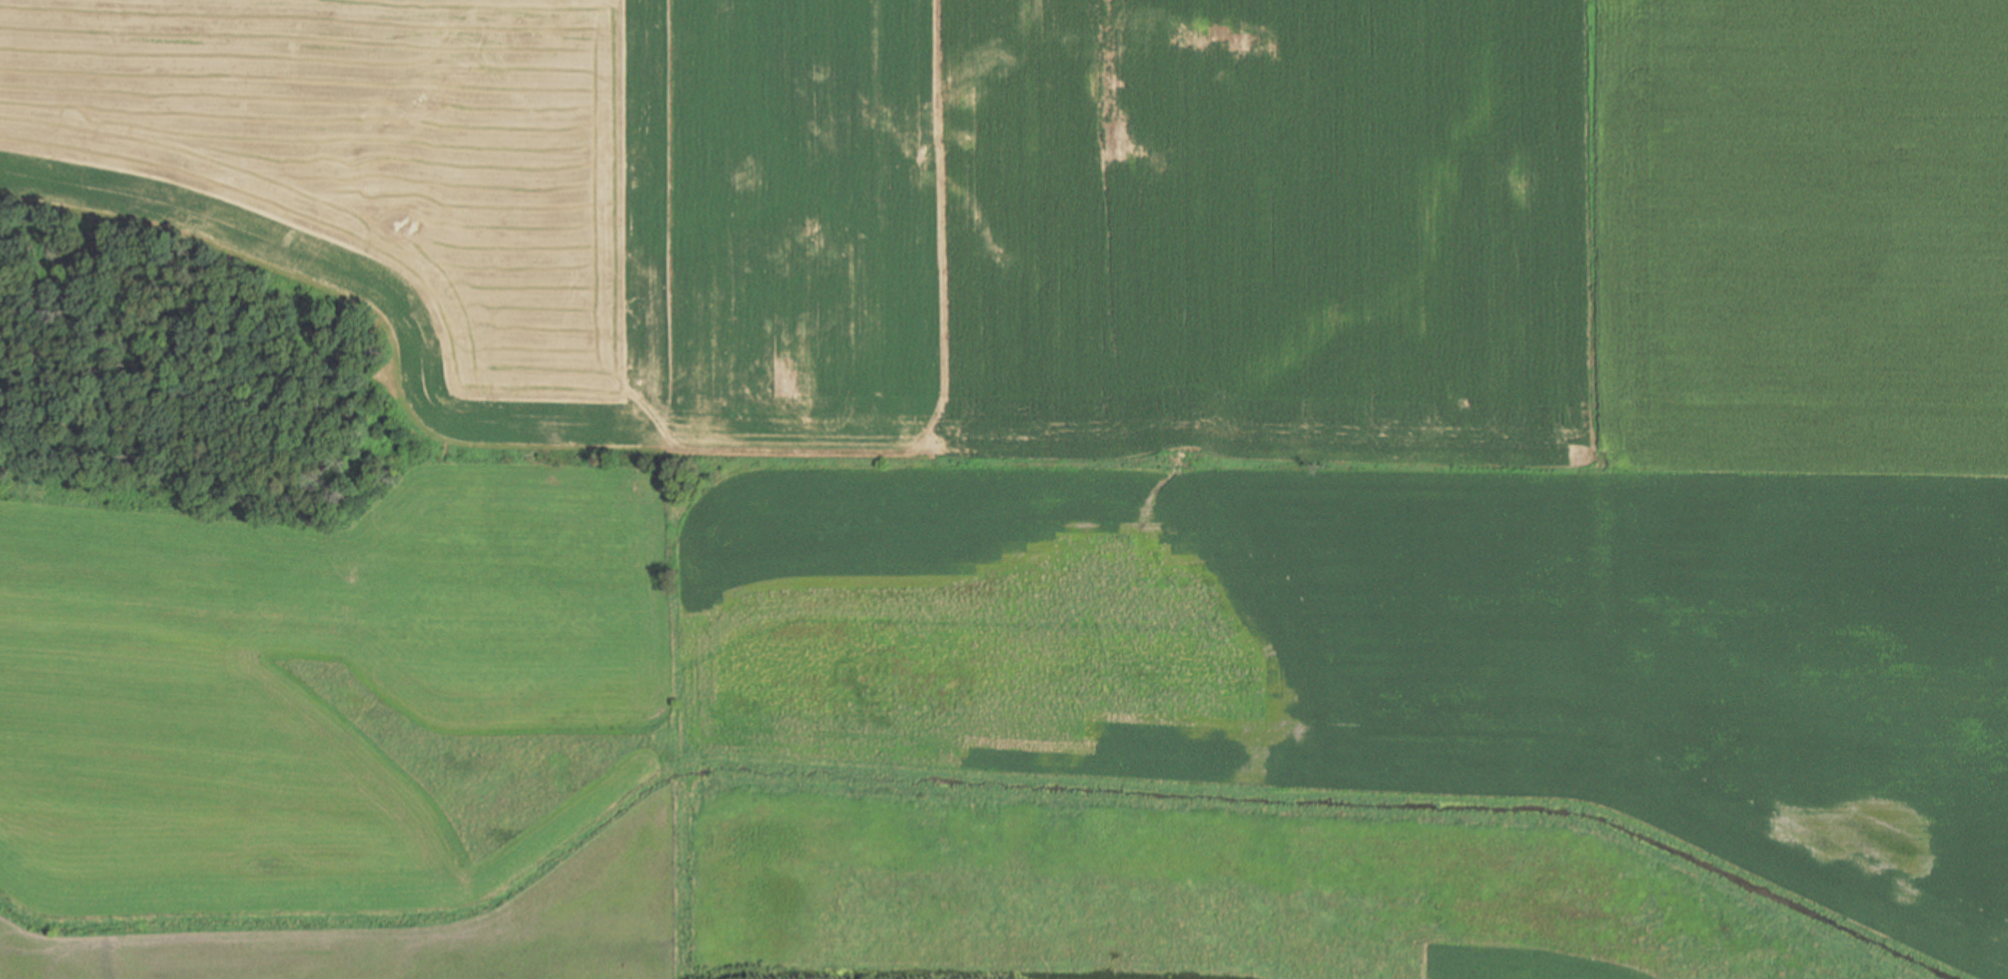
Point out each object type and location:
crop: (1501, 226)
crop: (1803, 236)

